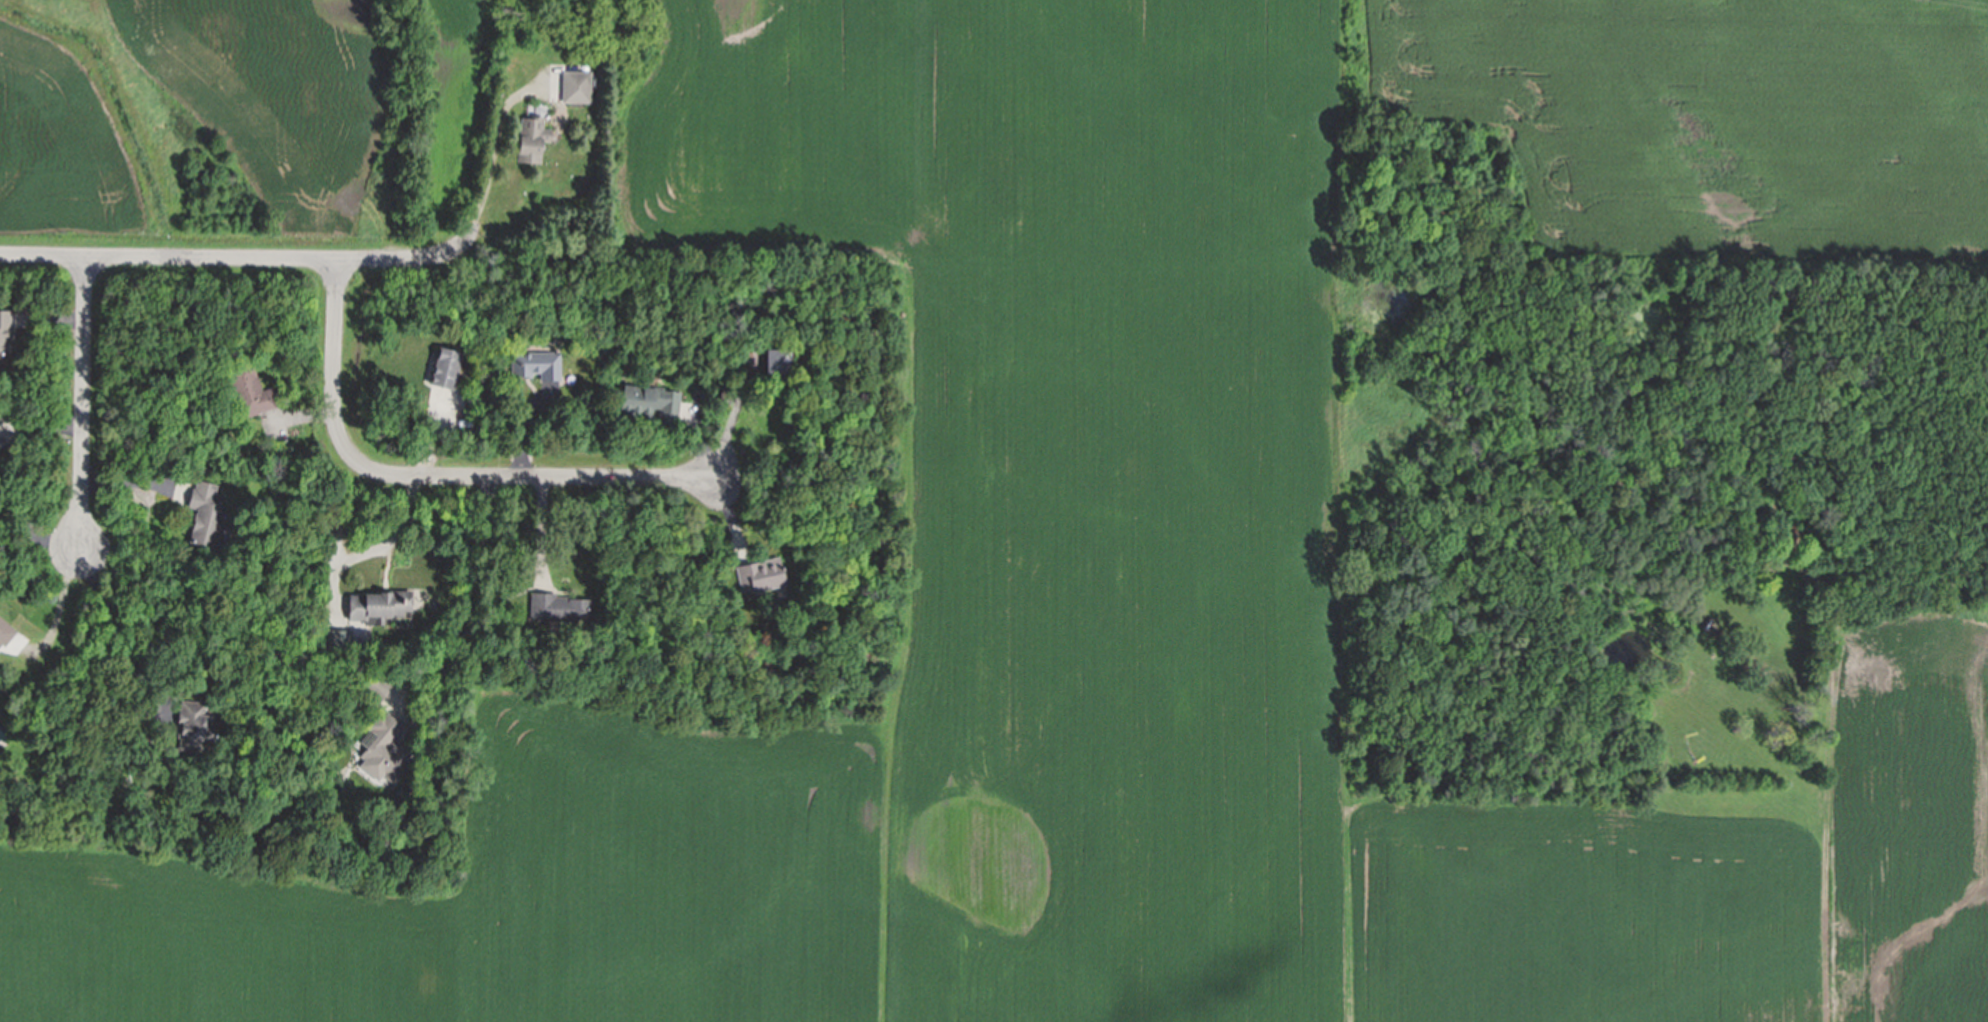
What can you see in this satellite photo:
building: (560, 35)
building: (577, 86)
building: (532, 139)
road: (493, 146)
road: (239, 260)
building: (5, 332)
building: (753, 358)
building: (778, 363)
building: (537, 365)
building: (446, 369)
building: (647, 380)
building: (250, 390)
building: (727, 397)
building: (474, 399)
road: (82, 400)
building: (650, 404)
road: (729, 424)
road: (435, 476)
building: (207, 516)
road: (37, 534)
road: (372, 549)
building: (761, 576)
road: (467, 592)
road: (59, 604)
building: (380, 607)
building: (500, 608)
building: (559, 609)
building: (6, 633)
building: (340, 640)
building: (377, 687)
building: (189, 689)
building: (196, 727)
building: (385, 751)

